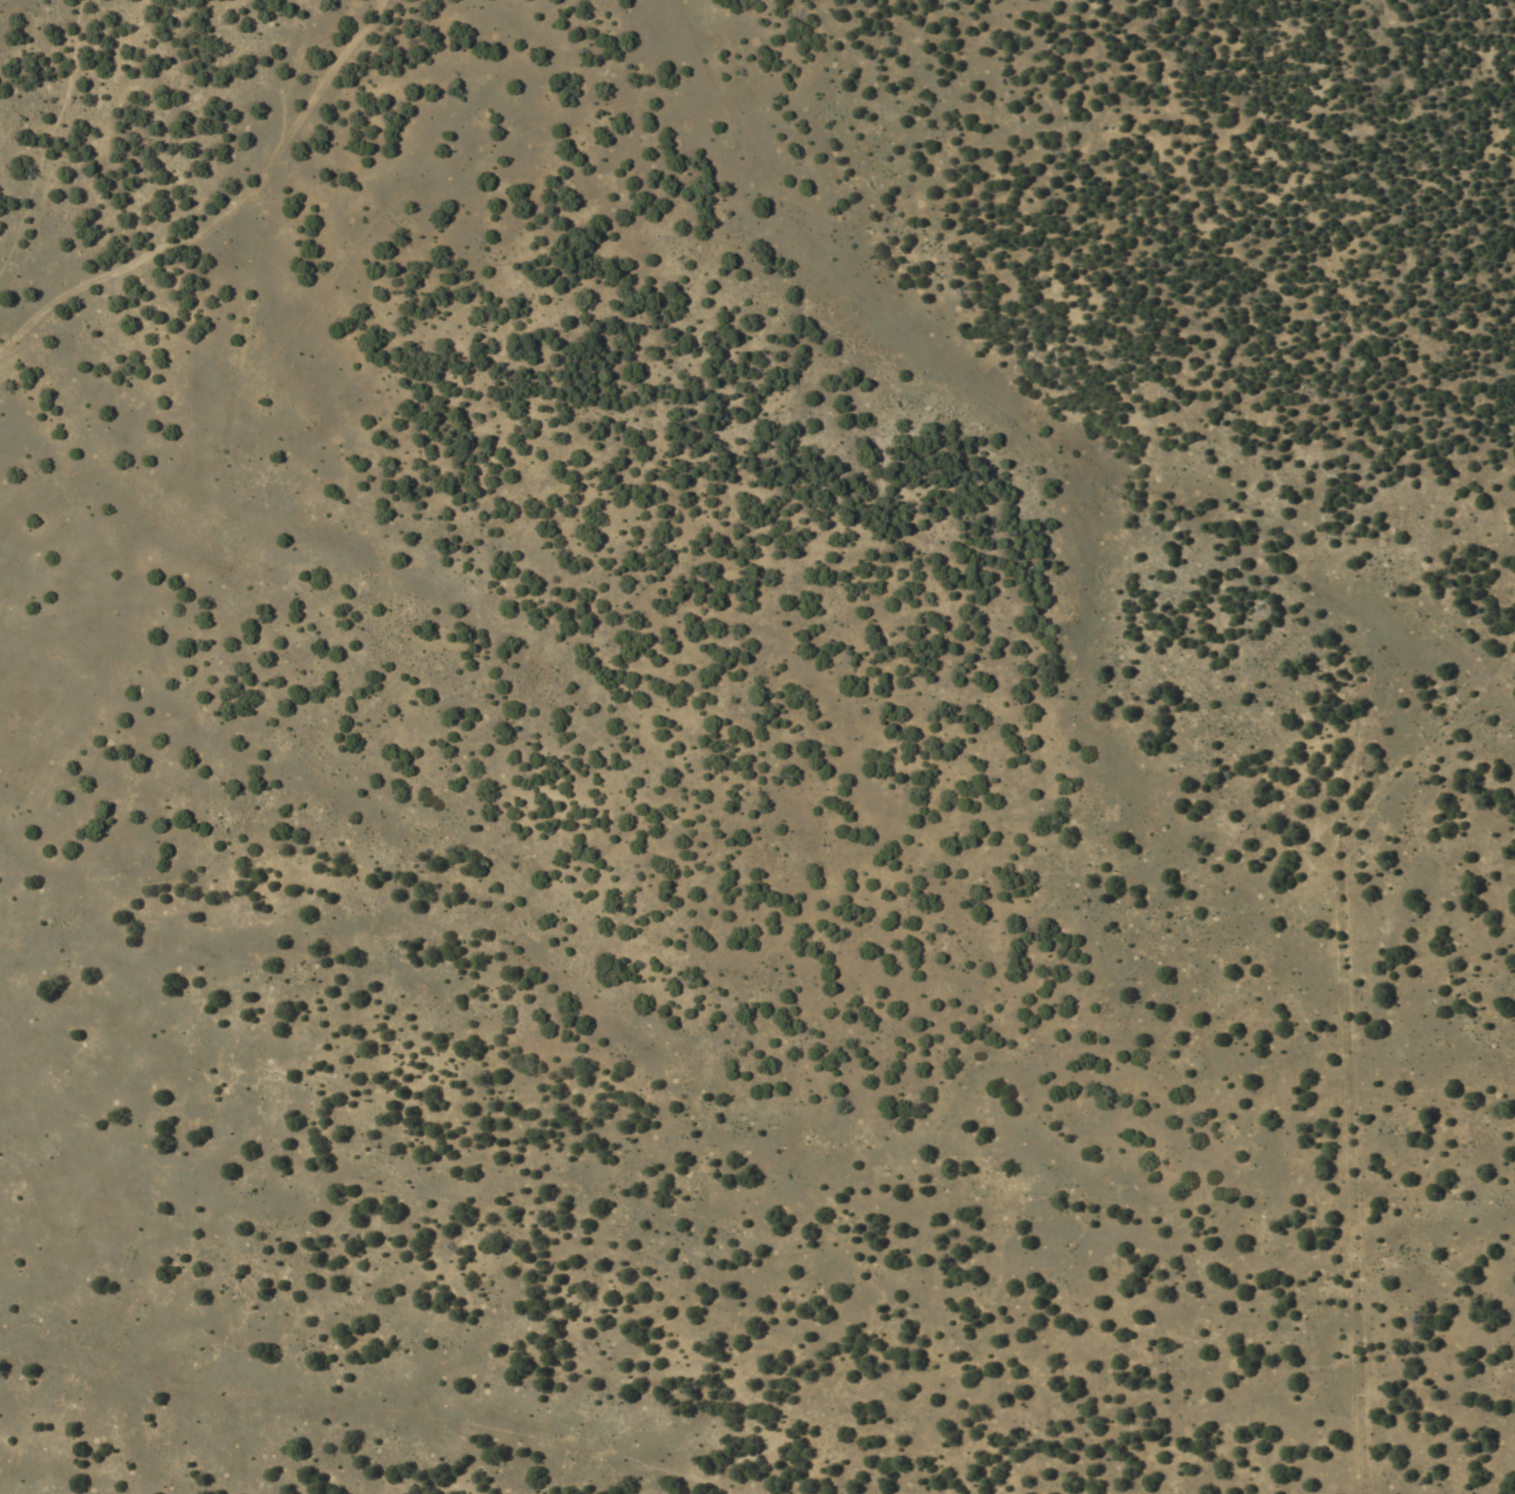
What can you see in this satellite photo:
road: (235, 220)

